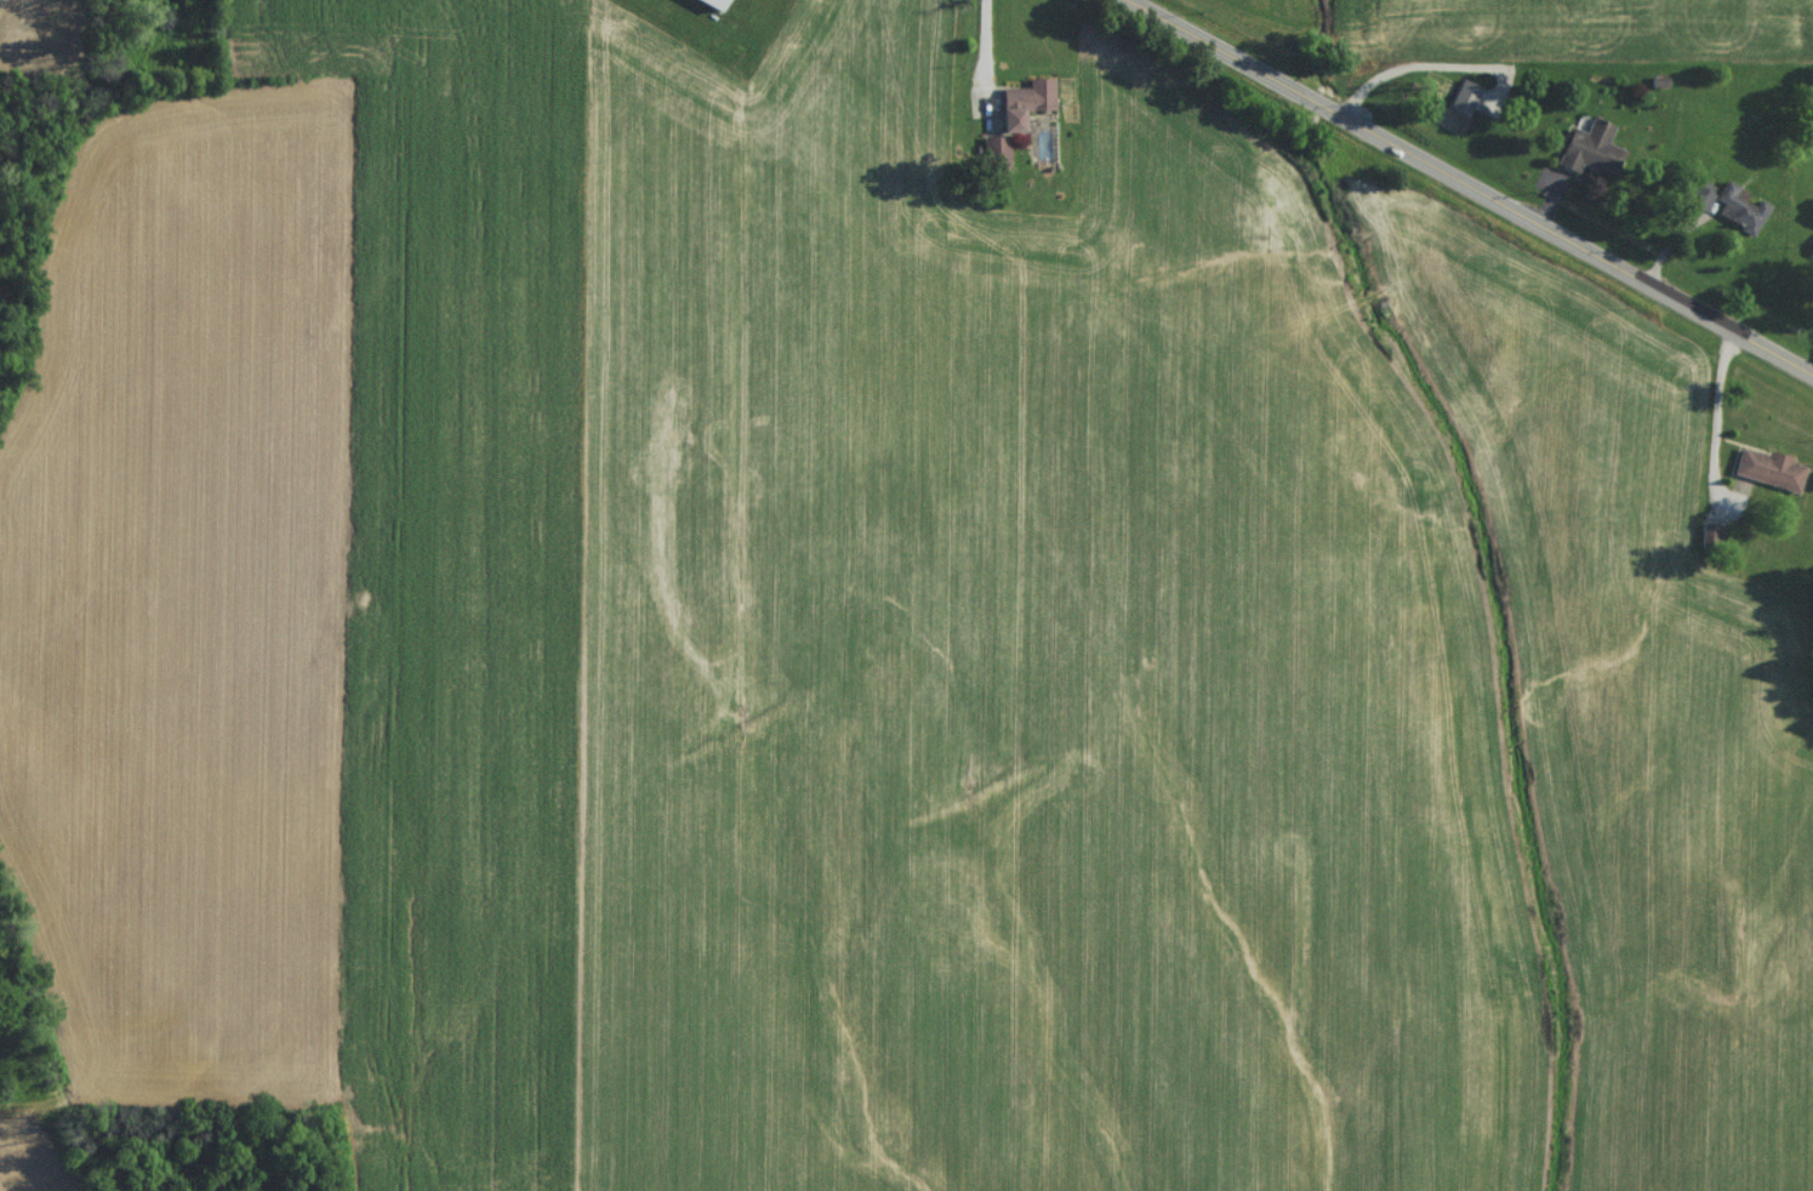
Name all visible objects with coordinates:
building: (707, 6)
road: (985, 42)
road: (1409, 70)
building: (1461, 102)
building: (1020, 106)
building: (1583, 153)
building: (992, 155)
building: (1711, 175)
road: (1475, 183)
building: (1735, 213)
building: (1811, 256)
road: (1717, 410)
building: (1764, 474)

